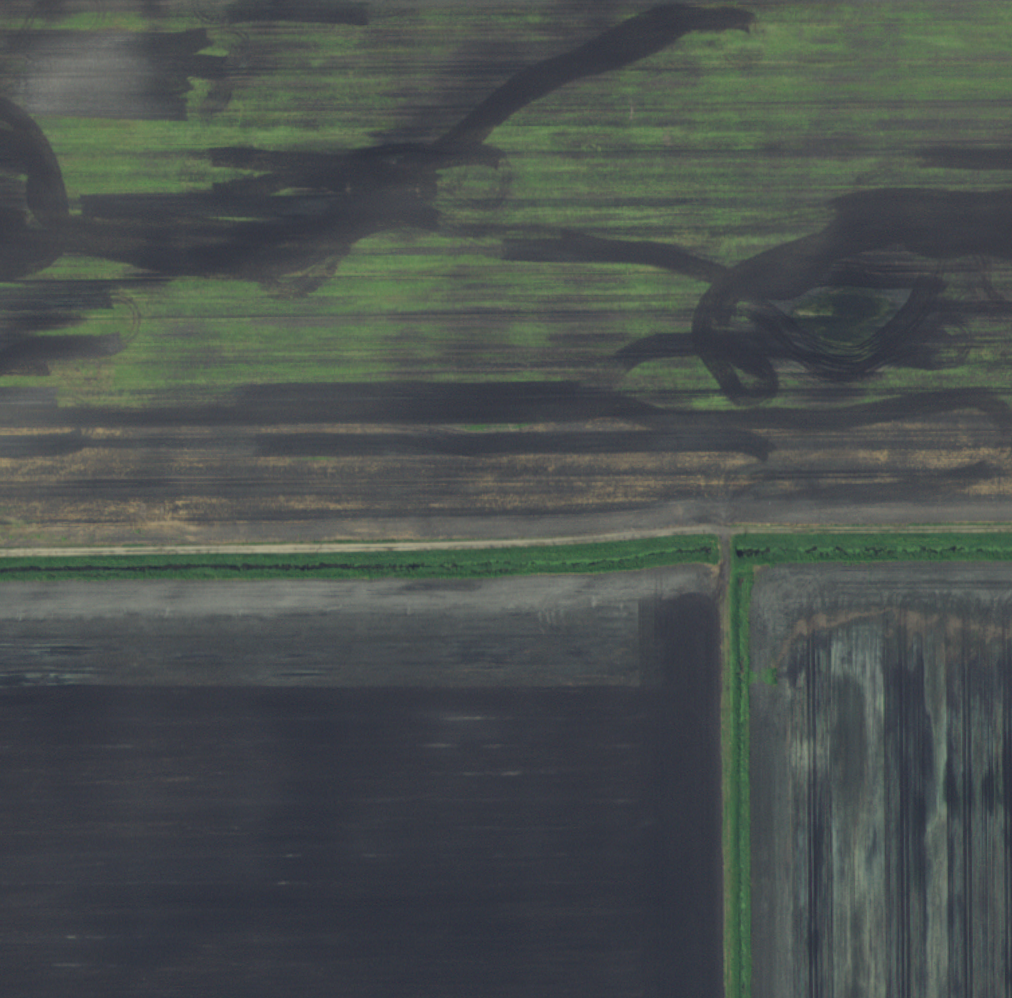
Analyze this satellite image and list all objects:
road: (506, 542)

